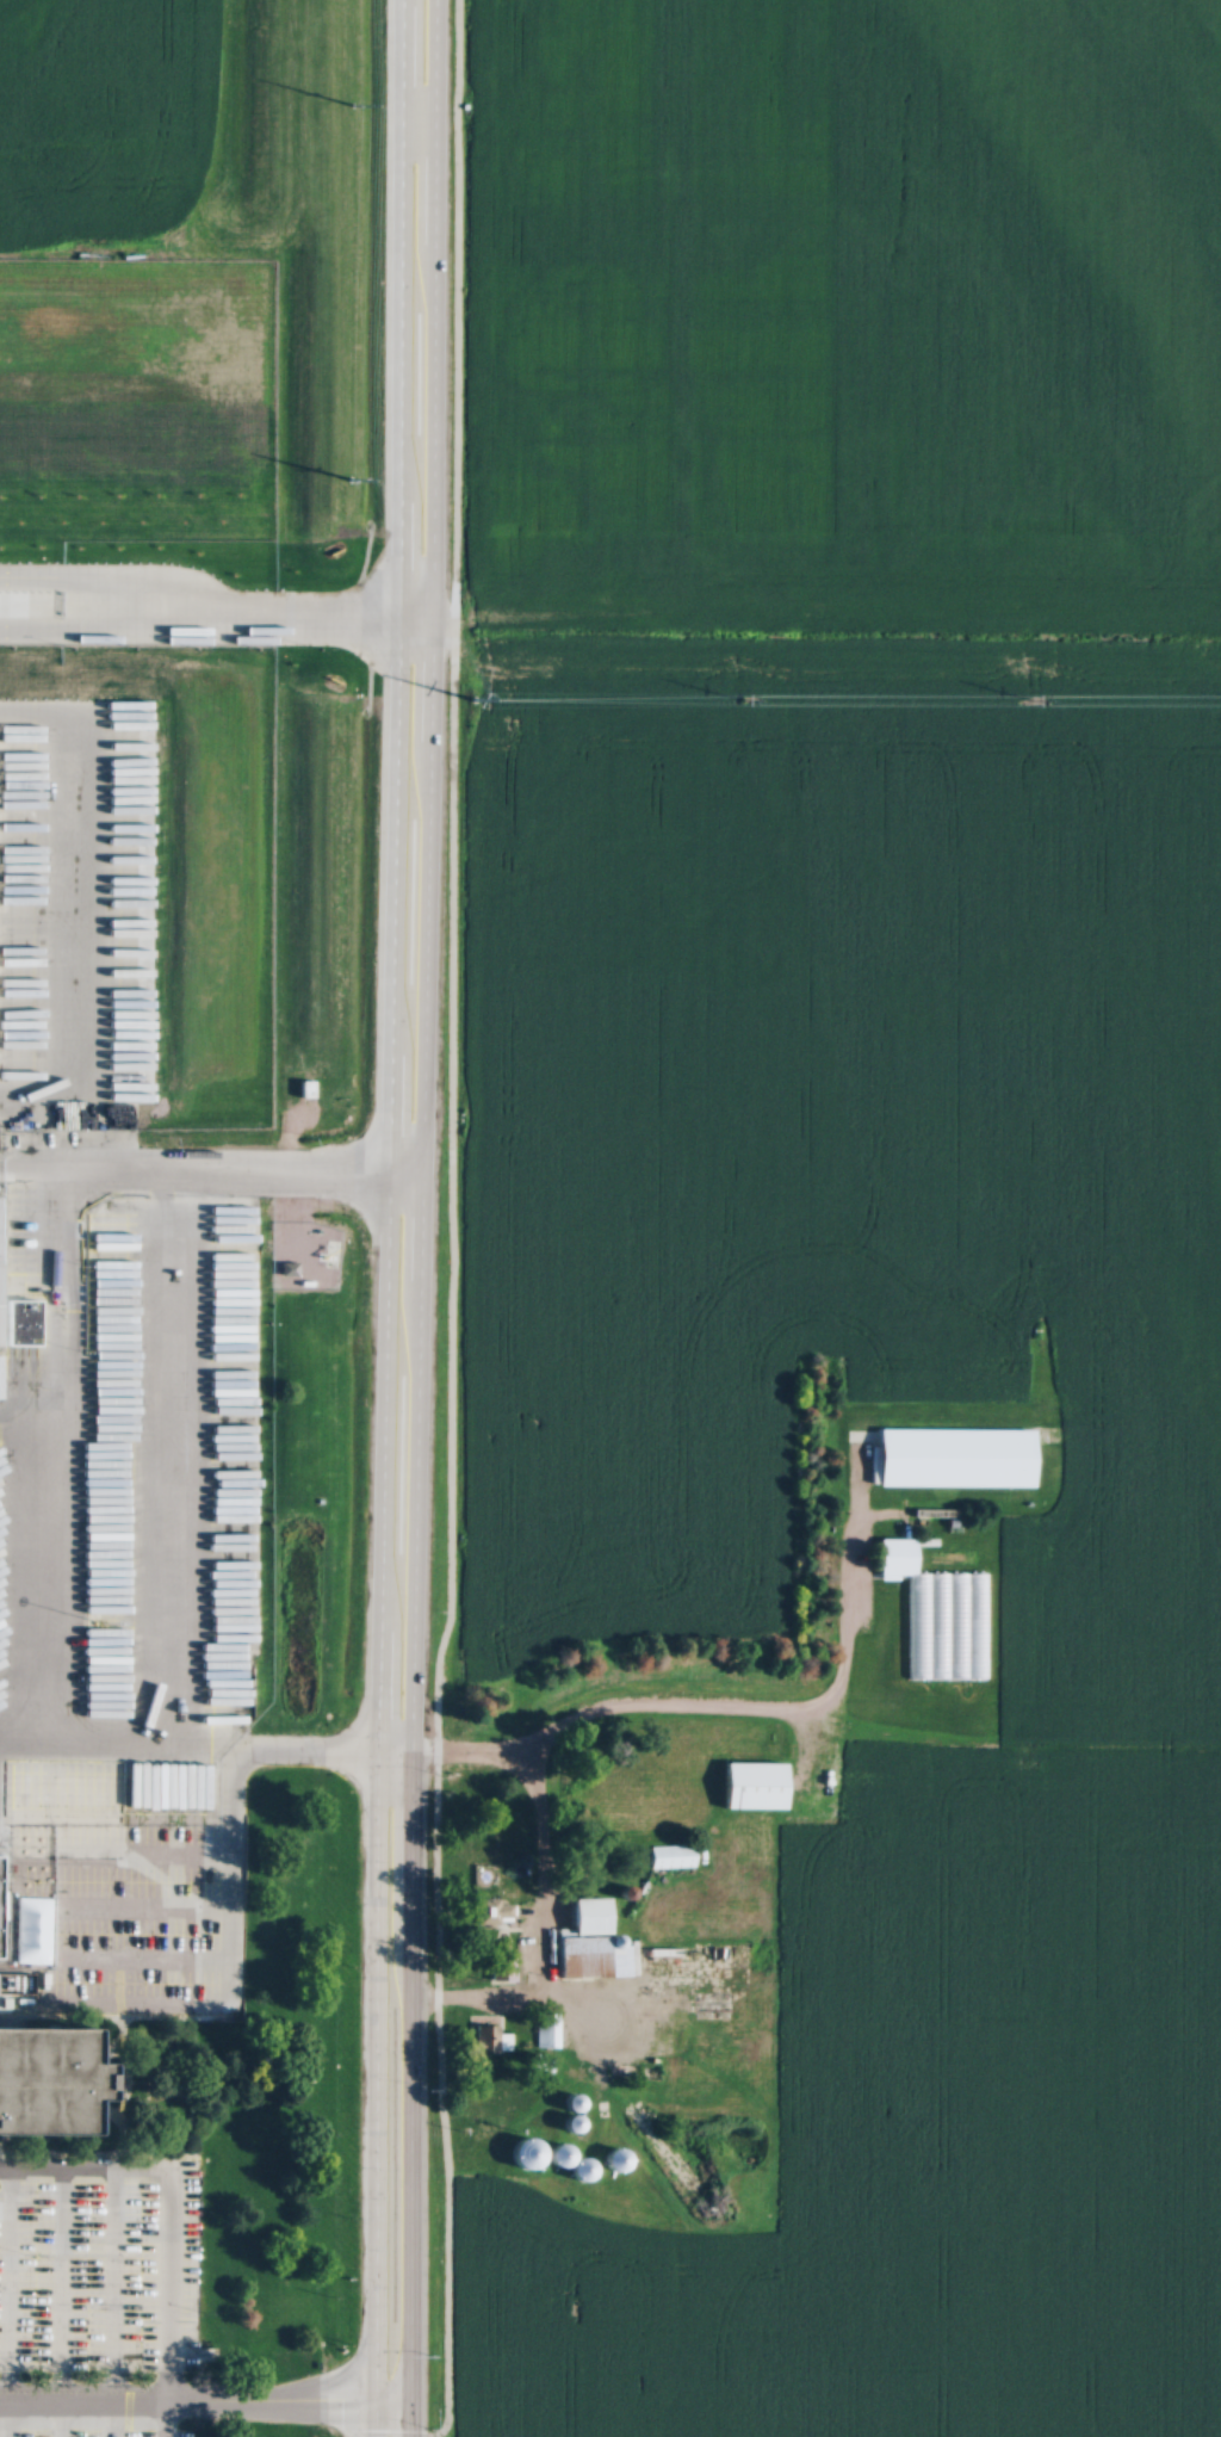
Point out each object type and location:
road: (395, 583)
road: (428, 584)
road: (197, 632)
street lamp: (354, 681)
power tower: (472, 697)
building: (303, 1087)
crop: (862, 1122)
road: (209, 1164)
street lamp: (353, 1210)
road: (448, 1264)
building: (19, 1316)
road: (411, 1461)
building: (936, 1613)
road: (806, 1714)
road: (203, 1750)
street lamp: (444, 1769)
building: (752, 1780)
road: (372, 1801)
building: (669, 1851)
building: (0, 1864)
building: (489, 1906)
building: (591, 1938)
street lamp: (351, 1961)
building: (498, 1963)
road: (491, 1990)
building: (544, 2023)
building: (488, 2031)
building: (540, 2058)
building: (47, 2078)
road: (407, 2096)
street lamp: (429, 2096)
building: (581, 2159)
street lamp: (349, 2212)
street lamp: (342, 2344)
street lamp: (429, 2350)
traffic signals: (371, 2365)
road: (204, 2402)
traffic signals: (349, 2404)

